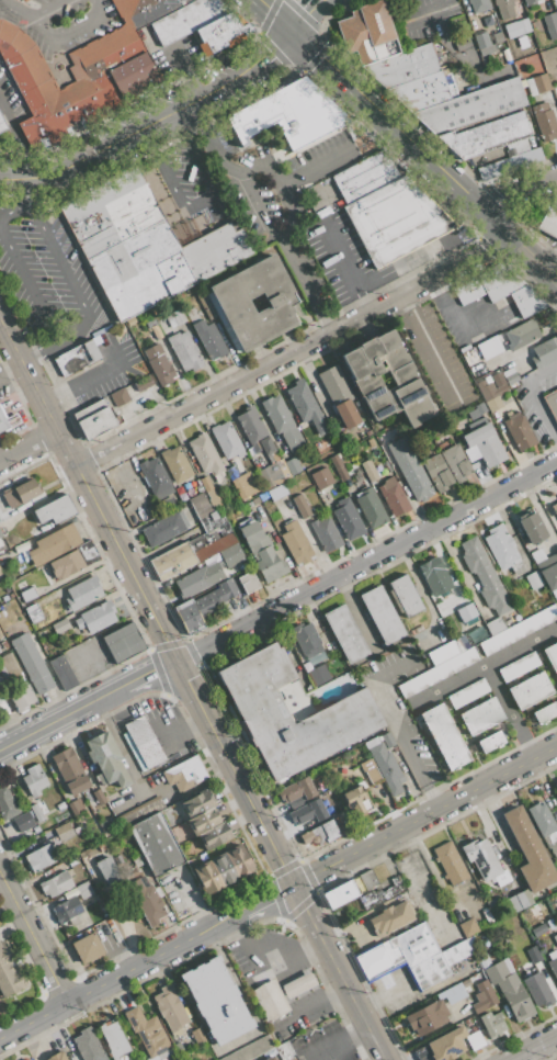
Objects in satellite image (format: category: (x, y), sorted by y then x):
building: (22, 0)
building: (528, 2)
building: (465, 4)
building: (479, 5)
building: (504, 8)
road: (45, 9)
road: (13, 11)
building: (556, 12)
road: (303, 13)
road: (427, 14)
road: (274, 15)
building: (186, 19)
building: (473, 25)
building: (549, 25)
building: (516, 27)
building: (364, 30)
traffic signals: (291, 31)
road: (69, 33)
building: (221, 33)
building: (461, 43)
building: (482, 44)
road: (274, 47)
building: (402, 66)
building: (81, 70)
road: (178, 76)
road: (234, 78)
parking lot: (4, 83)
building: (538, 84)
building: (423, 91)
building: (473, 106)
building: (292, 116)
building: (3, 122)
building: (546, 123)
building: (487, 133)
road: (16, 139)
building: (518, 147)
road: (109, 148)
road: (332, 155)
road: (423, 156)
building: (509, 163)
building: (366, 176)
road: (276, 184)
road: (20, 190)
road: (515, 190)
road: (201, 202)
parking lot: (270, 207)
road: (9, 213)
road: (263, 216)
building: (397, 221)
building: (548, 222)
building: (141, 244)
road: (556, 245)
road: (339, 255)
road: (547, 256)
parking lot: (45, 272)
road: (66, 277)
building: (499, 282)
road: (378, 284)
road: (27, 289)
building: (467, 291)
building: (526, 301)
building: (231, 303)
building: (191, 314)
road: (452, 315)
building: (170, 320)
building: (156, 330)
building: (522, 334)
building: (209, 339)
building: (490, 342)
road: (430, 347)
building: (184, 350)
road: (293, 351)
building: (544, 352)
road: (39, 354)
building: (78, 358)
parking lot: (107, 367)
building: (161, 369)
road: (11, 371)
building: (510, 377)
building: (407, 380)
building: (144, 384)
parking lot: (4, 386)
building: (491, 388)
road: (37, 392)
building: (516, 393)
building: (339, 396)
building: (120, 397)
road: (534, 397)
building: (552, 403)
building: (306, 406)
building: (481, 409)
building: (94, 418)
building: (8, 420)
building: (283, 422)
building: (457, 424)
building: (254, 430)
building: (434, 430)
building: (519, 431)
building: (226, 440)
road: (29, 443)
building: (482, 446)
building: (205, 453)
building: (455, 462)
building: (175, 463)
building: (292, 465)
building: (339, 466)
building: (379, 469)
building: (410, 469)
building: (368, 470)
building: (436, 472)
building: (232, 474)
building: (270, 474)
building: (157, 477)
building: (321, 477)
parking lot: (130, 483)
building: (239, 486)
building: (198, 487)
building: (189, 490)
building: (209, 490)
building: (276, 493)
building: (21, 494)
building: (394, 496)
building: (248, 504)
building: (300, 505)
building: (429, 505)
building: (371, 508)
building: (554, 508)
building: (54, 510)
building: (213, 515)
building: (207, 518)
building: (348, 520)
building: (532, 527)
building: (163, 529)
building: (0, 533)
building: (326, 534)
building: (196, 542)
building: (0, 543)
building: (296, 543)
building: (54, 544)
building: (214, 546)
building: (500, 546)
building: (261, 551)
building: (231, 555)
building: (537, 555)
building: (72, 561)
building: (172, 561)
road: (366, 563)
road: (126, 565)
building: (518, 570)
building: (0, 572)
building: (0, 573)
building: (434, 576)
building: (484, 576)
building: (549, 576)
building: (198, 579)
building: (533, 580)
building: (248, 582)
building: (83, 593)
building: (554, 593)
building: (27, 595)
building: (406, 596)
building: (204, 605)
building: (556, 605)
building: (442, 609)
building: (33, 612)
building: (1, 613)
building: (467, 613)
building: (382, 614)
building: (95, 617)
building: (59, 625)
building: (514, 629)
building: (0, 634)
building: (345, 634)
building: (306, 639)
building: (123, 641)
building: (463, 642)
building: (4, 643)
building: (442, 652)
parking lot: (88, 657)
building: (552, 657)
building: (31, 663)
traffic signals: (177, 665)
building: (519, 666)
building: (10, 667)
road: (98, 669)
building: (61, 672)
road: (148, 672)
building: (436, 673)
building: (315, 676)
road: (490, 677)
road: (447, 686)
building: (530, 690)
building: (468, 692)
road: (104, 695)
building: (21, 698)
building: (3, 707)
building: (349, 707)
building: (544, 712)
building: (481, 717)
road: (391, 724)
road: (43, 728)
building: (444, 736)
building: (387, 740)
building: (144, 742)
building: (490, 742)
building: (134, 752)
road: (144, 752)
building: (106, 760)
building: (386, 766)
building: (370, 770)
building: (70, 771)
building: (184, 774)
road: (236, 774)
building: (34, 782)
building: (556, 786)
building: (297, 791)
building: (99, 797)
building: (357, 799)
building: (196, 803)
building: (7, 804)
building: (75, 807)
building: (143, 811)
building: (36, 812)
building: (308, 812)
road: (425, 815)
building: (541, 819)
building: (23, 821)
building: (203, 821)
building: (104, 827)
building: (64, 831)
building: (320, 833)
building: (214, 835)
building: (552, 837)
building: (156, 844)
building: (102, 847)
building: (554, 849)
building: (528, 852)
building: (88, 853)
building: (41, 857)
building: (482, 859)
building: (239, 860)
building: (70, 861)
building: (451, 862)
building: (224, 869)
building: (145, 871)
building: (106, 872)
building: (206, 878)
building: (367, 879)
road: (427, 882)
building: (55, 883)
traffic signals: (296, 884)
building: (82, 887)
building: (339, 893)
building: (379, 894)
building: (161, 899)
building: (520, 900)
building: (492, 901)
building: (146, 902)
building: (67, 911)
building: (391, 917)
building: (552, 926)
building: (468, 927)
building: (537, 929)
road: (34, 936)
building: (87, 948)
building: (532, 955)
building: (411, 956)
road: (147, 960)
road: (263, 962)
building: (553, 962)
building: (9, 972)
road: (341, 972)
building: (297, 984)
gas station: (297, 984)
building: (465, 986)
building: (509, 989)
building: (537, 989)
building: (453, 993)
road: (320, 996)
building: (484, 996)
road: (380, 997)
building: (271, 1000)
building: (216, 1001)
building: (170, 1008)
building: (427, 1016)
building: (467, 1023)
building: (492, 1023)
building: (146, 1031)
building: (197, 1036)
building: (114, 1039)
road: (336, 1040)
building: (475, 1040)
building: (88, 1045)
building: (446, 1045)
road: (532, 1047)
building: (249, 1050)
building: (286, 1050)
road: (340, 1050)
road: (364, 1051)
building: (57, 1056)
building: (140, 1058)
building: (270, 1058)
building: (27, 1059)

